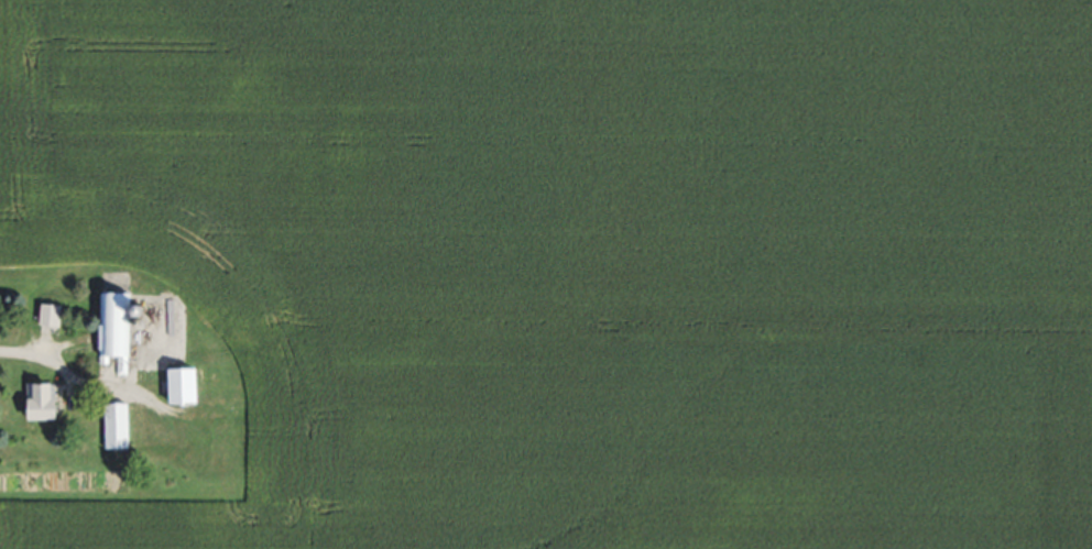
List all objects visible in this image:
building: (54, 314)
building: (119, 329)
building: (188, 384)
building: (50, 399)
building: (120, 425)

